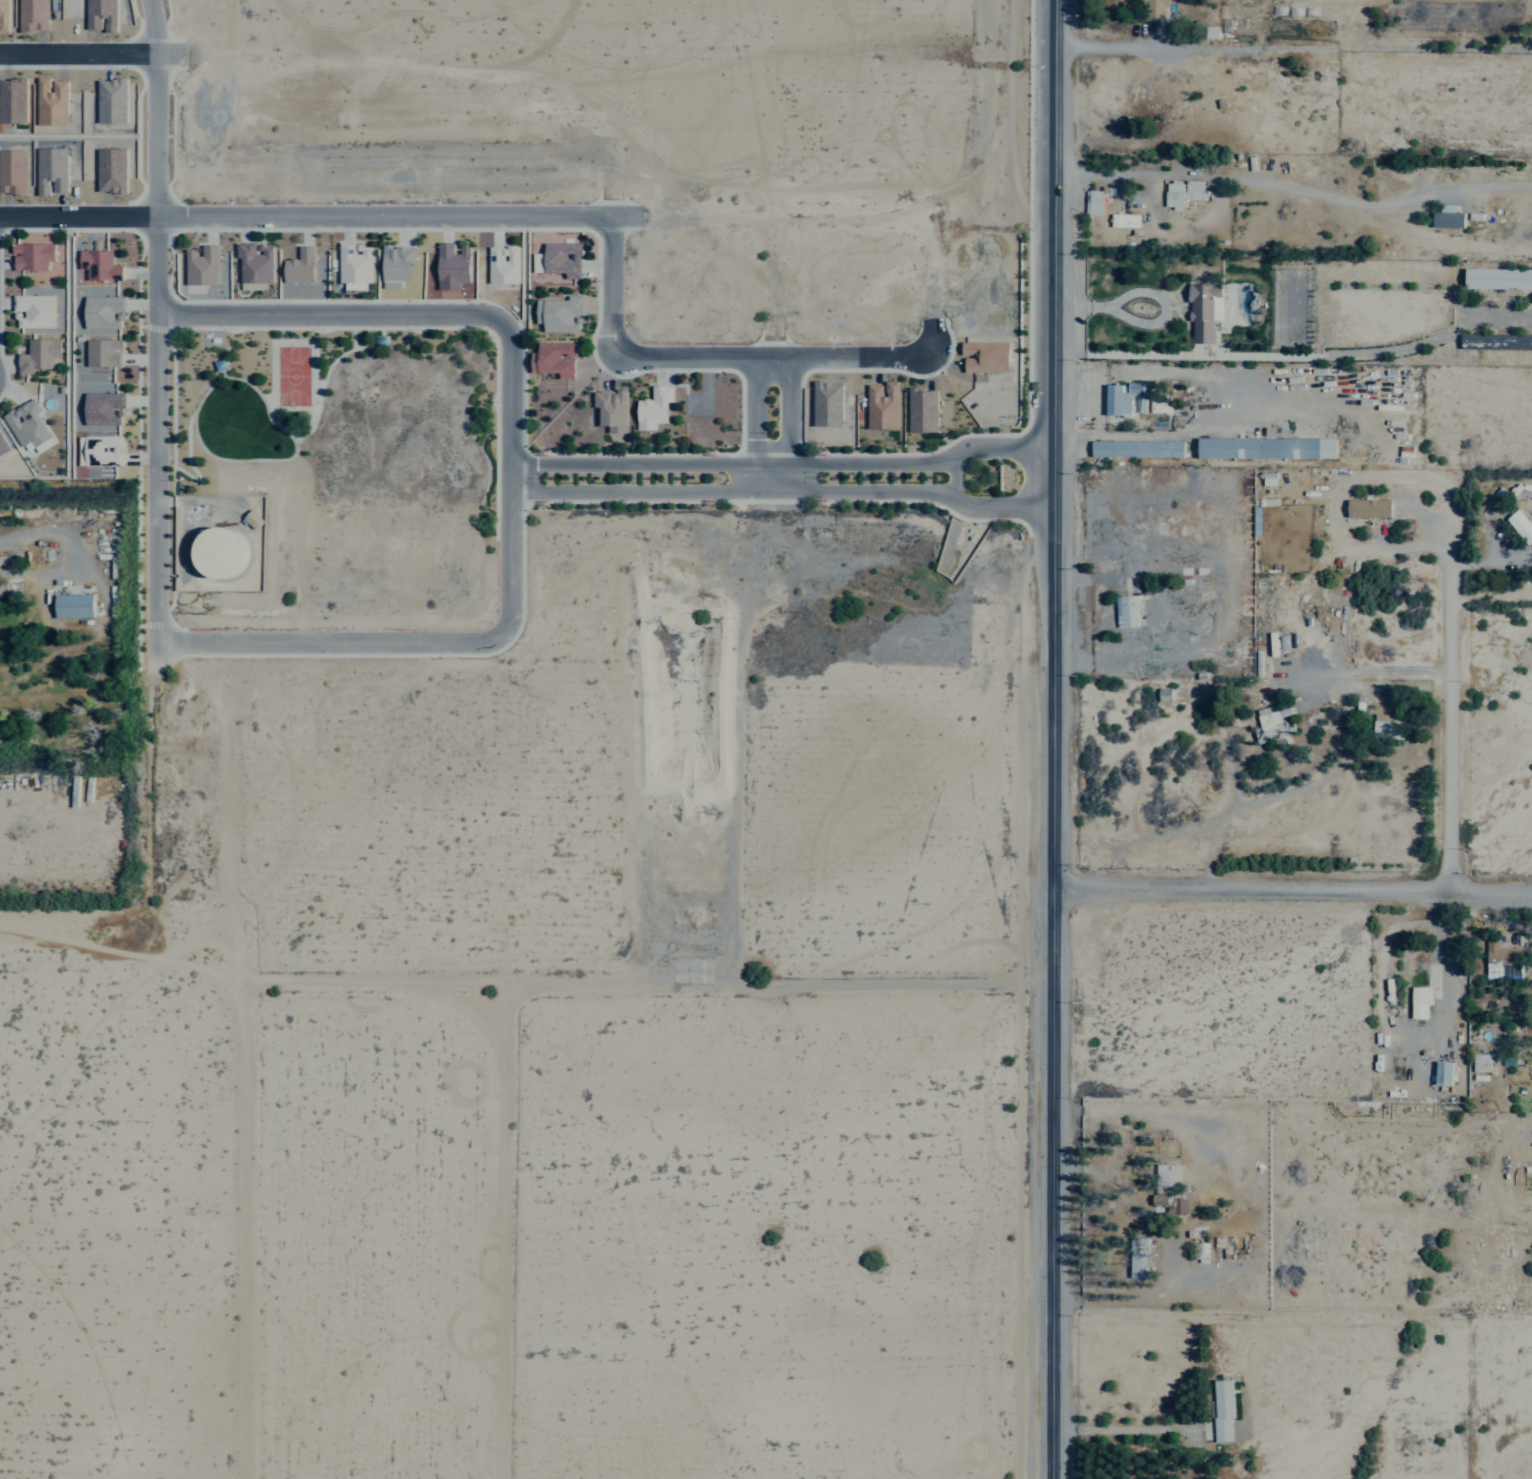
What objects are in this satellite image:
building: (1153, 9)
road: (91, 53)
building: (1181, 193)
building: (1091, 202)
building: (1445, 217)
road: (320, 220)
building: (1122, 220)
building: (34, 255)
building: (560, 259)
building: (101, 264)
building: (398, 264)
building: (505, 264)
building: (202, 265)
building: (301, 265)
building: (454, 265)
building: (1497, 279)
road: (610, 283)
building: (35, 310)
building: (105, 311)
building: (1202, 311)
road: (157, 335)
building: (1495, 341)
building: (104, 352)
building: (40, 354)
building: (555, 358)
road: (784, 360)
building: (1118, 397)
building: (1157, 404)
building: (879, 406)
building: (105, 407)
building: (609, 408)
building: (650, 408)
building: (919, 411)
building: (29, 424)
road: (756, 425)
road: (794, 425)
building: (3, 445)
building: (1263, 447)
building: (1135, 448)
building: (101, 450)
road: (785, 462)
road: (514, 477)
building: (1267, 478)
road: (786, 490)
building: (1367, 508)
building: (254, 518)
building: (1519, 526)
building: (225, 552)
building: (76, 605)
building: (1124, 611)
building: (1161, 693)
road: (1448, 721)
building: (1272, 725)
building: (1385, 727)
road: (1055, 739)
road: (1292, 885)
building: (1501, 961)
building: (1418, 1002)
building: (1478, 1062)
building: (1440, 1073)
building: (1165, 1175)
building: (1157, 1200)
building: (1178, 1204)
building: (1136, 1258)
building: (1220, 1409)

